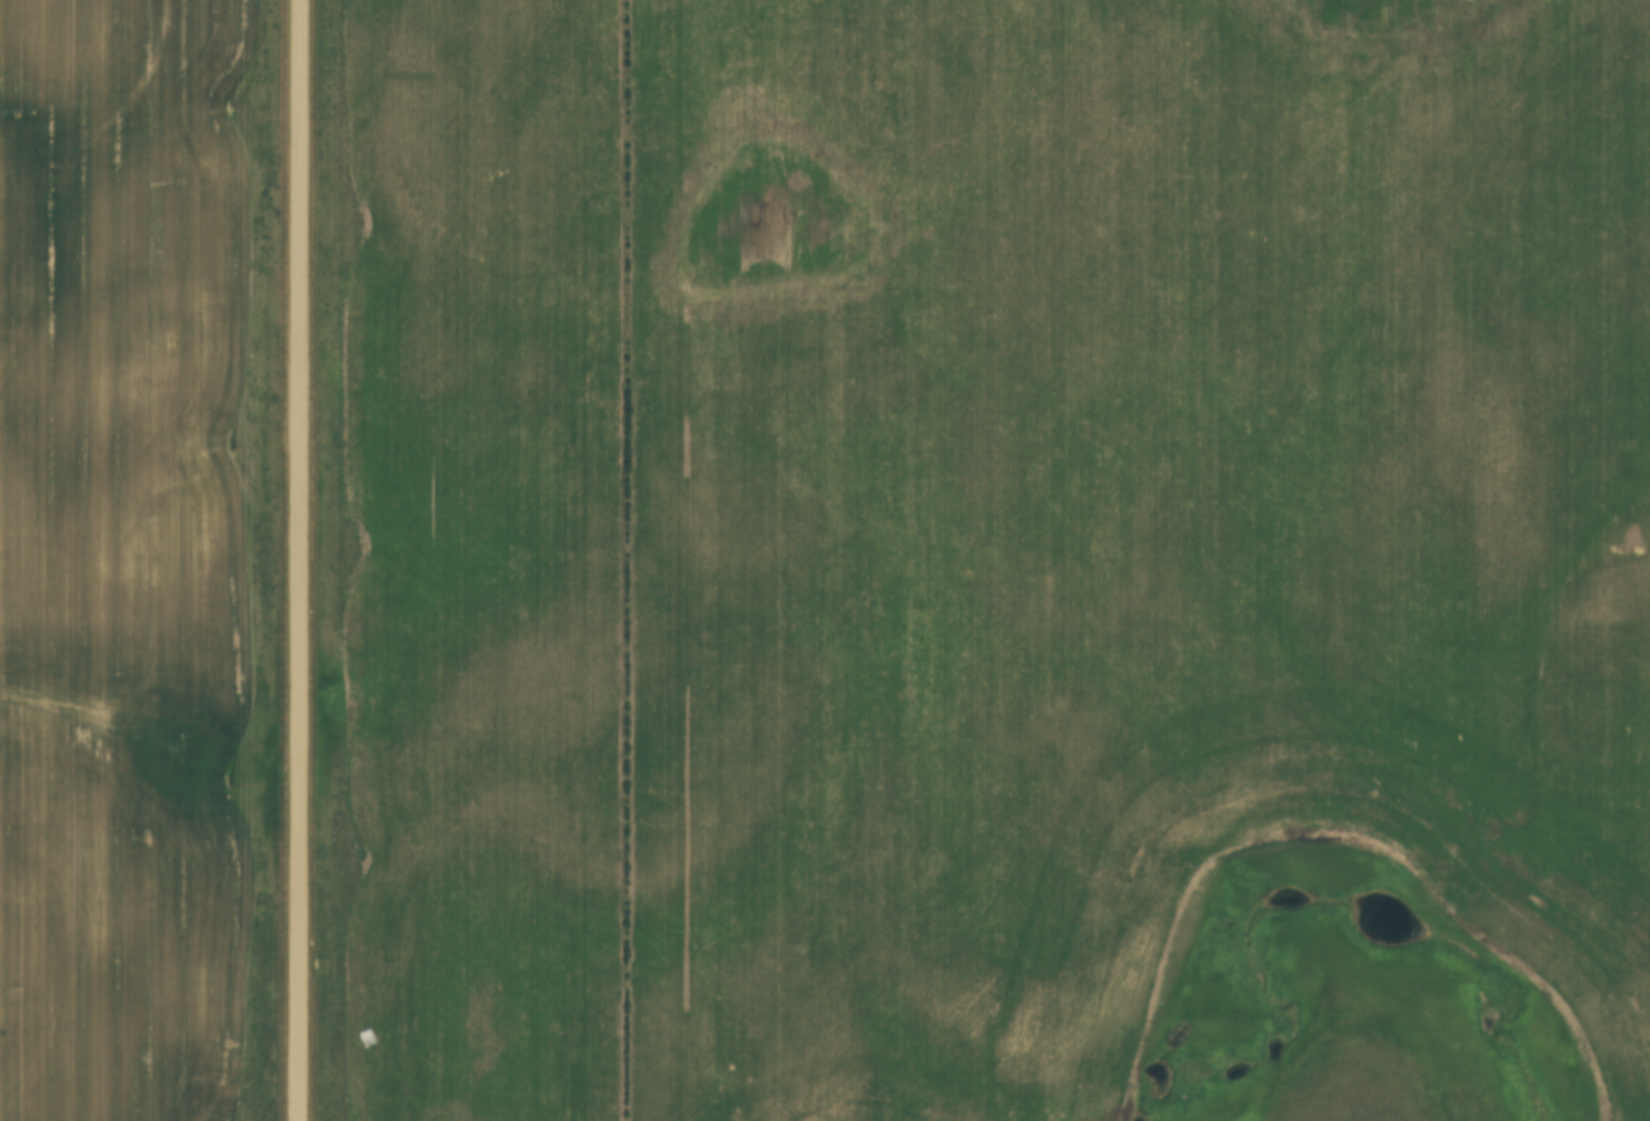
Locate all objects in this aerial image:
road: (302, 560)

